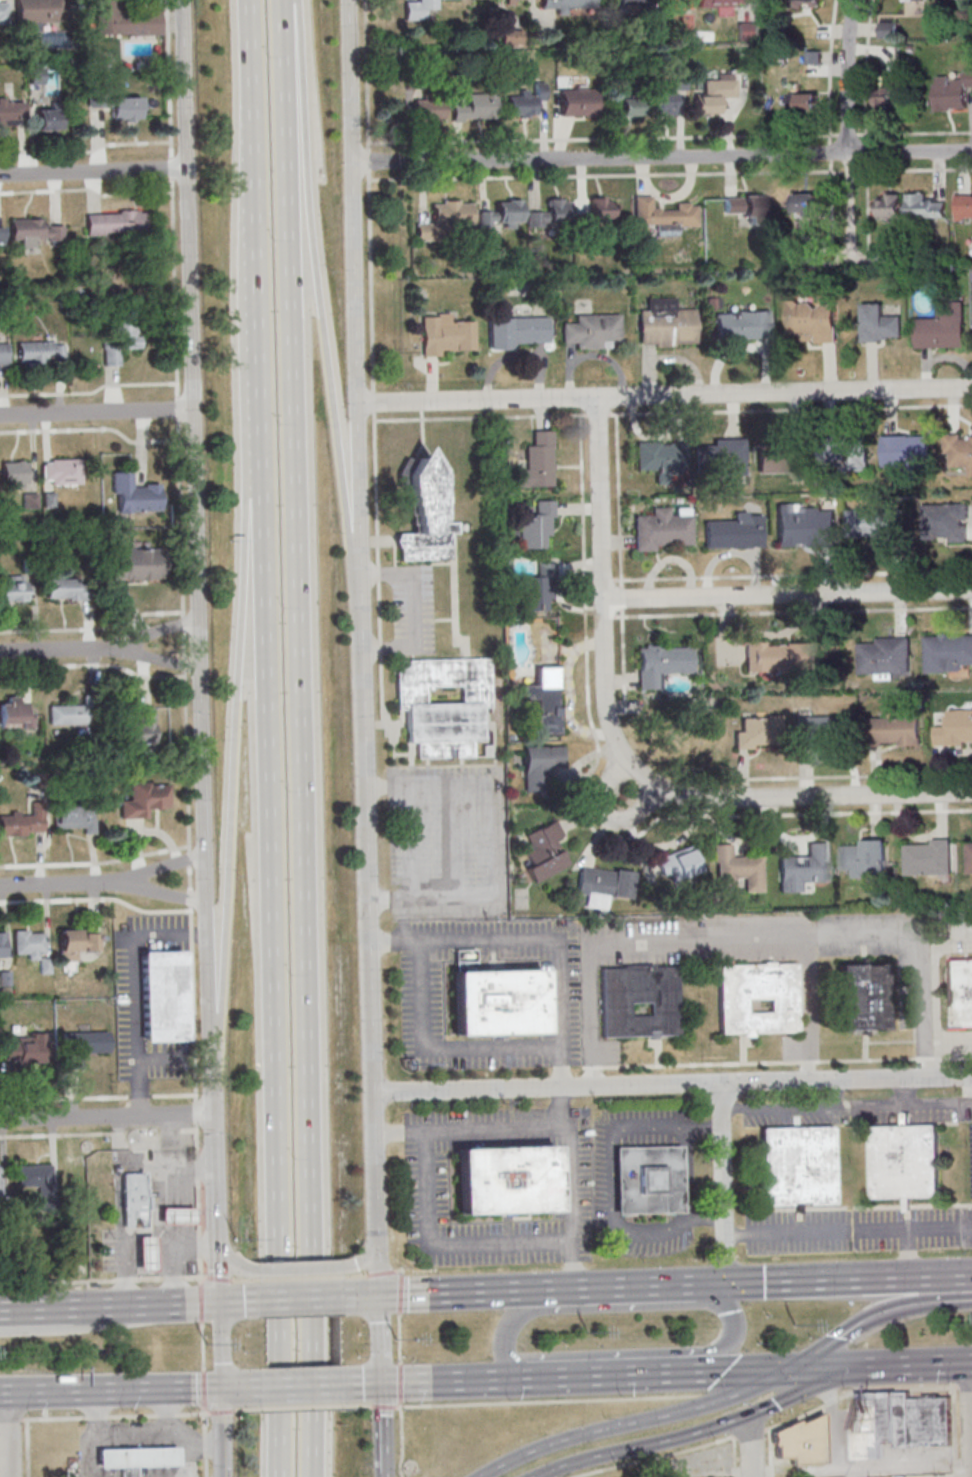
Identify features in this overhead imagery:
road: (291, 1)
building: (513, 1)
building: (723, 1)
building: (635, 2)
building: (805, 2)
building: (566, 5)
building: (418, 8)
building: (4, 12)
building: (37, 12)
building: (126, 20)
building: (889, 29)
building: (749, 30)
building: (802, 31)
road: (254, 52)
road: (846, 75)
building: (38, 80)
building: (952, 92)
building: (715, 94)
building: (96, 97)
building: (888, 98)
building: (526, 100)
building: (578, 101)
building: (803, 102)
building: (664, 103)
building: (630, 106)
building: (124, 108)
building: (476, 108)
building: (429, 109)
building: (10, 112)
building: (49, 119)
road: (663, 158)
road: (93, 171)
building: (807, 203)
building: (745, 206)
building: (964, 206)
building: (601, 207)
building: (889, 207)
building: (924, 207)
building: (503, 214)
building: (551, 214)
building: (664, 214)
building: (445, 219)
building: (118, 222)
building: (34, 231)
building: (1, 235)
road: (261, 298)
road: (356, 301)
road: (323, 302)
building: (813, 321)
building: (667, 324)
building: (742, 324)
building: (879, 324)
building: (942, 327)
building: (517, 331)
building: (592, 331)
building: (447, 335)
building: (121, 340)
building: (41, 352)
building: (4, 354)
road: (373, 360)
road: (665, 395)
road: (374, 400)
road: (673, 411)
road: (96, 412)
building: (904, 451)
building: (957, 451)
road: (375, 454)
building: (841, 454)
building: (779, 455)
building: (655, 456)
building: (718, 457)
building: (538, 461)
building: (61, 471)
building: (15, 474)
building: (135, 494)
building: (429, 516)
building: (942, 521)
building: (873, 522)
building: (537, 526)
building: (799, 527)
building: (659, 530)
building: (735, 531)
road: (197, 539)
road: (621, 561)
building: (138, 564)
road: (793, 574)
road: (609, 580)
building: (13, 588)
building: (68, 588)
building: (538, 588)
road: (788, 595)
road: (411, 608)
road: (793, 611)
road: (609, 616)
road: (301, 625)
road: (160, 633)
road: (183, 638)
road: (61, 649)
building: (946, 652)
building: (882, 655)
building: (780, 656)
road: (161, 657)
building: (663, 663)
building: (546, 699)
building: (440, 704)
building: (14, 713)
building: (69, 714)
building: (140, 727)
building: (955, 728)
building: (820, 730)
building: (895, 730)
building: (758, 733)
road: (625, 754)
building: (541, 766)
road: (743, 773)
road: (857, 774)
road: (235, 784)
building: (145, 799)
road: (583, 813)
road: (605, 816)
building: (75, 818)
building: (23, 822)
road: (498, 836)
building: (544, 851)
building: (864, 857)
building: (968, 857)
building: (926, 858)
road: (368, 863)
building: (678, 864)
road: (161, 868)
building: (801, 868)
building: (737, 869)
road: (275, 870)
road: (58, 884)
building: (605, 885)
road: (162, 891)
road: (948, 930)
road: (755, 937)
road: (539, 938)
building: (75, 943)
building: (29, 944)
building: (2, 946)
road: (135, 991)
building: (959, 993)
building: (162, 996)
building: (857, 996)
building: (753, 998)
building: (635, 1000)
building: (494, 1003)
road: (927, 1004)
road: (806, 1008)
road: (588, 1015)
building: (90, 1043)
road: (435, 1048)
building: (24, 1049)
road: (959, 1056)
road: (931, 1057)
road: (866, 1059)
road: (808, 1061)
road: (700, 1063)
road: (584, 1066)
road: (593, 1066)
road: (672, 1085)
road: (969, 1103)
road: (212, 1104)
road: (881, 1104)
road: (948, 1104)
road: (789, 1107)
road: (106, 1117)
road: (398, 1133)
building: (902, 1162)
building: (794, 1167)
road: (152, 1168)
building: (34, 1175)
road: (214, 1175)
road: (608, 1175)
building: (503, 1180)
building: (645, 1180)
building: (0, 1182)
road: (721, 1183)
road: (426, 1185)
road: (566, 1187)
building: (131, 1200)
road: (375, 1210)
building: (174, 1216)
road: (847, 1231)
road: (146, 1232)
road: (192, 1243)
road: (218, 1243)
building: (143, 1253)
road: (910, 1253)
road: (363, 1257)
road: (229, 1259)
road: (216, 1261)
road: (300, 1268)
road: (401, 1270)
road: (959, 1274)
road: (381, 1275)
road: (202, 1277)
road: (354, 1277)
road: (300, 1279)
road: (807, 1279)
road: (100, 1280)
road: (217, 1280)
road: (245, 1281)
traffic signals: (724, 1283)
road: (580, 1287)
road: (434, 1292)
road: (399, 1295)
road: (360, 1296)
traffic signals: (378, 1296)
road: (301, 1298)
road: (239, 1301)
road: (696, 1302)
traffic signals: (220, 1303)
road: (120, 1306)
road: (10, 1309)
road: (125, 1310)
road: (873, 1316)
power tower: (794, 1323)
road: (200, 1324)
road: (80, 1325)
power tower: (587, 1331)
power tower: (393, 1337)
road: (380, 1339)
road: (319, 1340)
road: (399, 1341)
power tower: (206, 1343)
road: (287, 1343)
road: (220, 1346)
road: (916, 1364)
traffic signals: (860, 1366)
road: (824, 1367)
traffic signals: (789, 1369)
road: (745, 1370)
road: (609, 1374)
road: (448, 1380)
traffic signals: (379, 1383)
road: (361, 1384)
road: (301, 1386)
road: (400, 1386)
road: (239, 1388)
road: (865, 1388)
traffic signals: (220, 1389)
road: (109, 1390)
road: (203, 1391)
road: (358, 1405)
road: (384, 1405)
road: (302, 1407)
road: (398, 1408)
road: (245, 1409)
road: (220, 1410)
road: (192, 1413)
road: (970, 1413)
road: (165, 1414)
road: (132, 1415)
road: (96, 1416)
building: (886, 1417)
road: (53, 1418)
road: (10, 1419)
building: (901, 1419)
road: (633, 1421)
building: (928, 1422)
road: (204, 1423)
road: (829, 1425)
road: (380, 1426)
building: (865, 1426)
road: (699, 1430)
road: (750, 1431)
road: (953, 1431)
road: (131, 1432)
road: (220, 1433)
road: (8, 1434)
road: (401, 1441)
building: (798, 1442)
road: (750, 1444)
road: (193, 1445)
road: (204, 1447)
road: (24, 1448)
road: (768, 1453)
road: (89, 1455)
road: (319, 1455)
road: (656, 1456)
road: (734, 1456)
road: (286, 1457)
building: (133, 1458)
road: (188, 1461)
road: (884, 1466)
building: (68, 1467)
road: (205, 1468)
road: (382, 1474)
building: (896, 1476)

